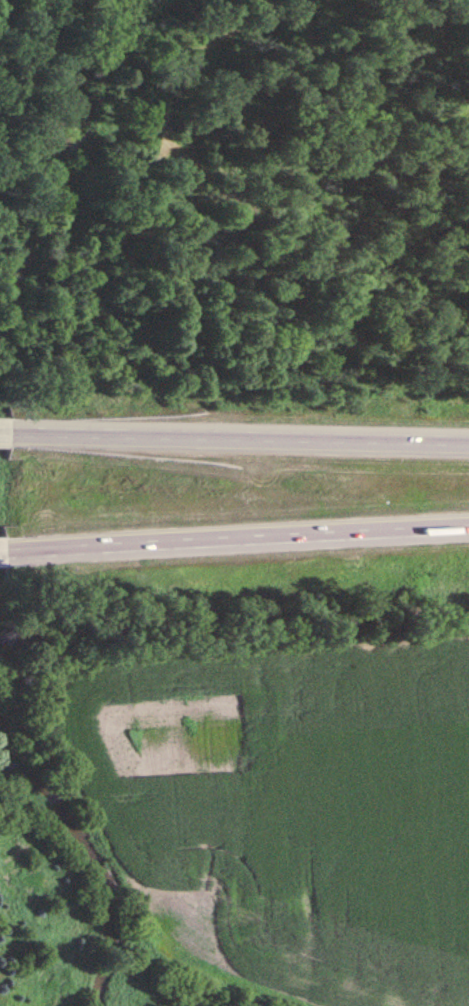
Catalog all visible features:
road: (234, 439)
road: (234, 537)

